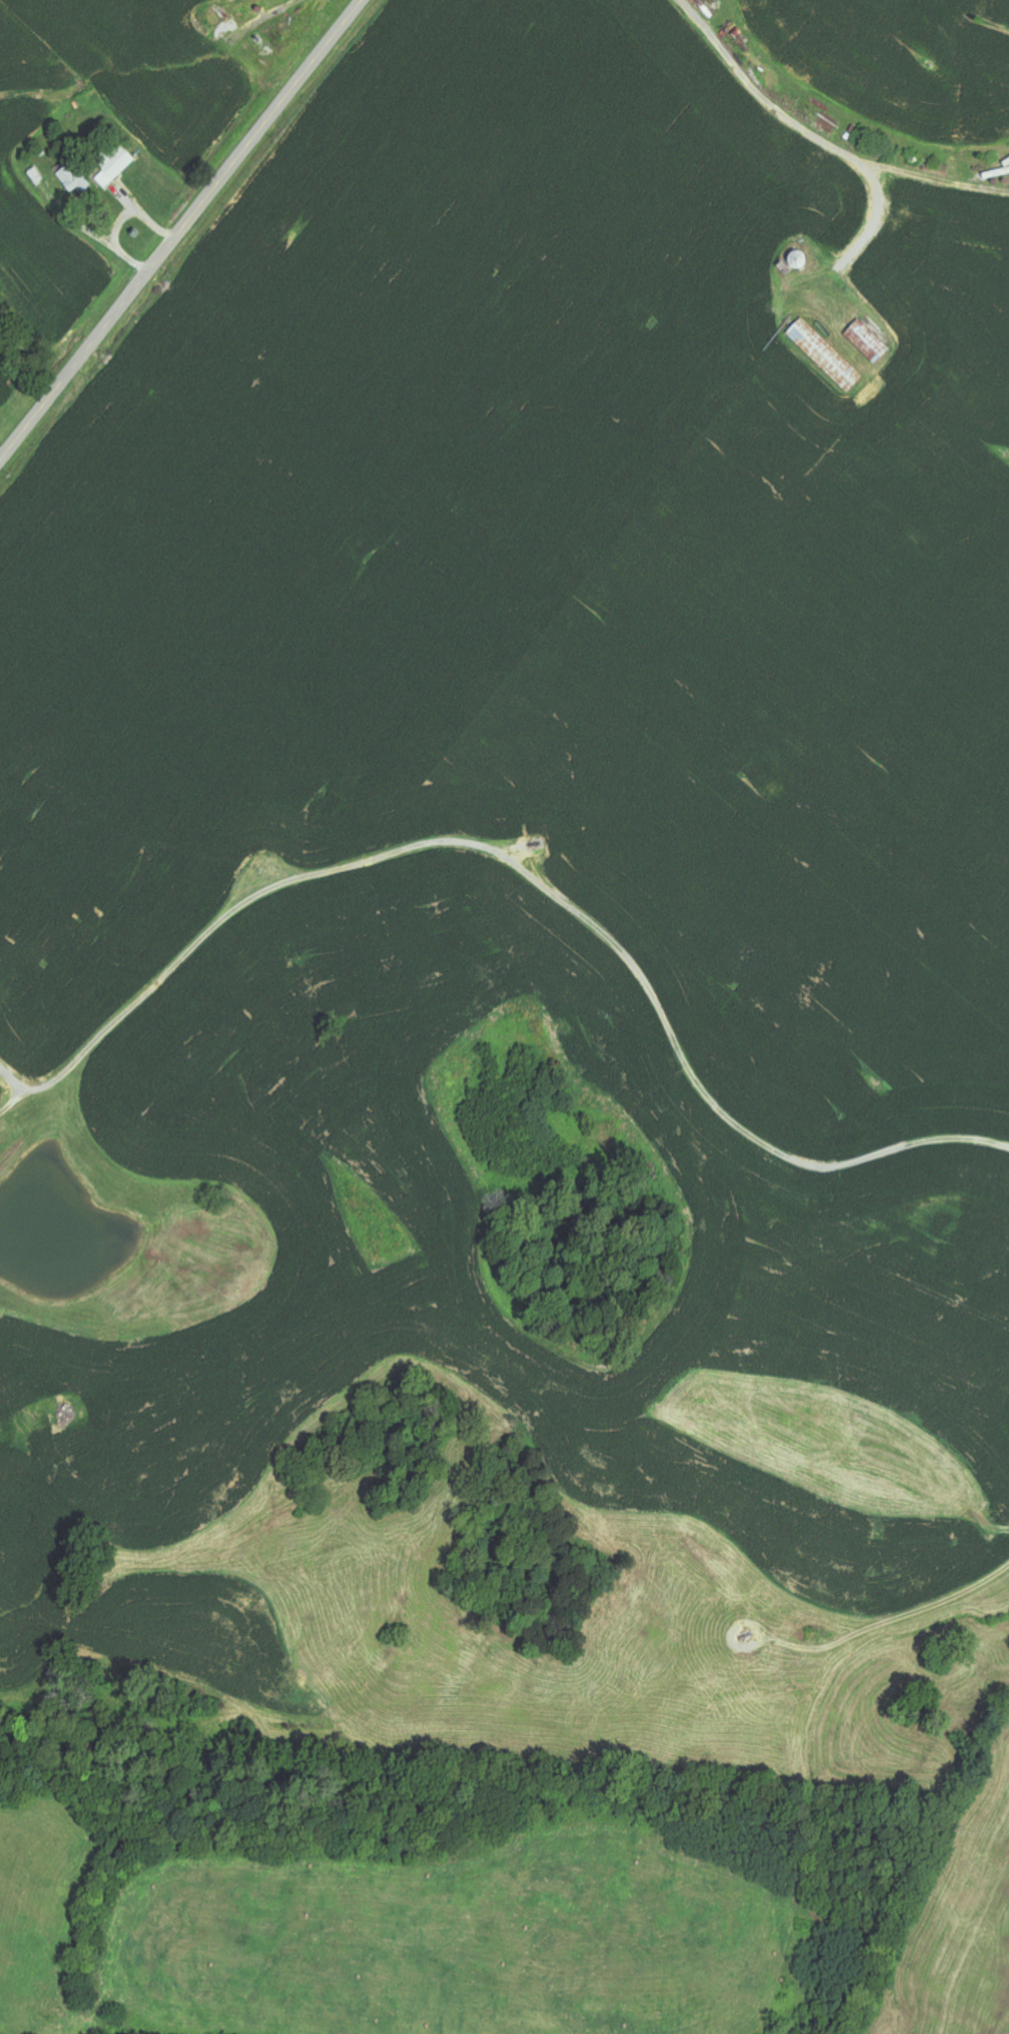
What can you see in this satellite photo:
road: (755, 83)
building: (115, 164)
building: (74, 180)
road: (181, 230)
building: (868, 341)
building: (826, 355)

